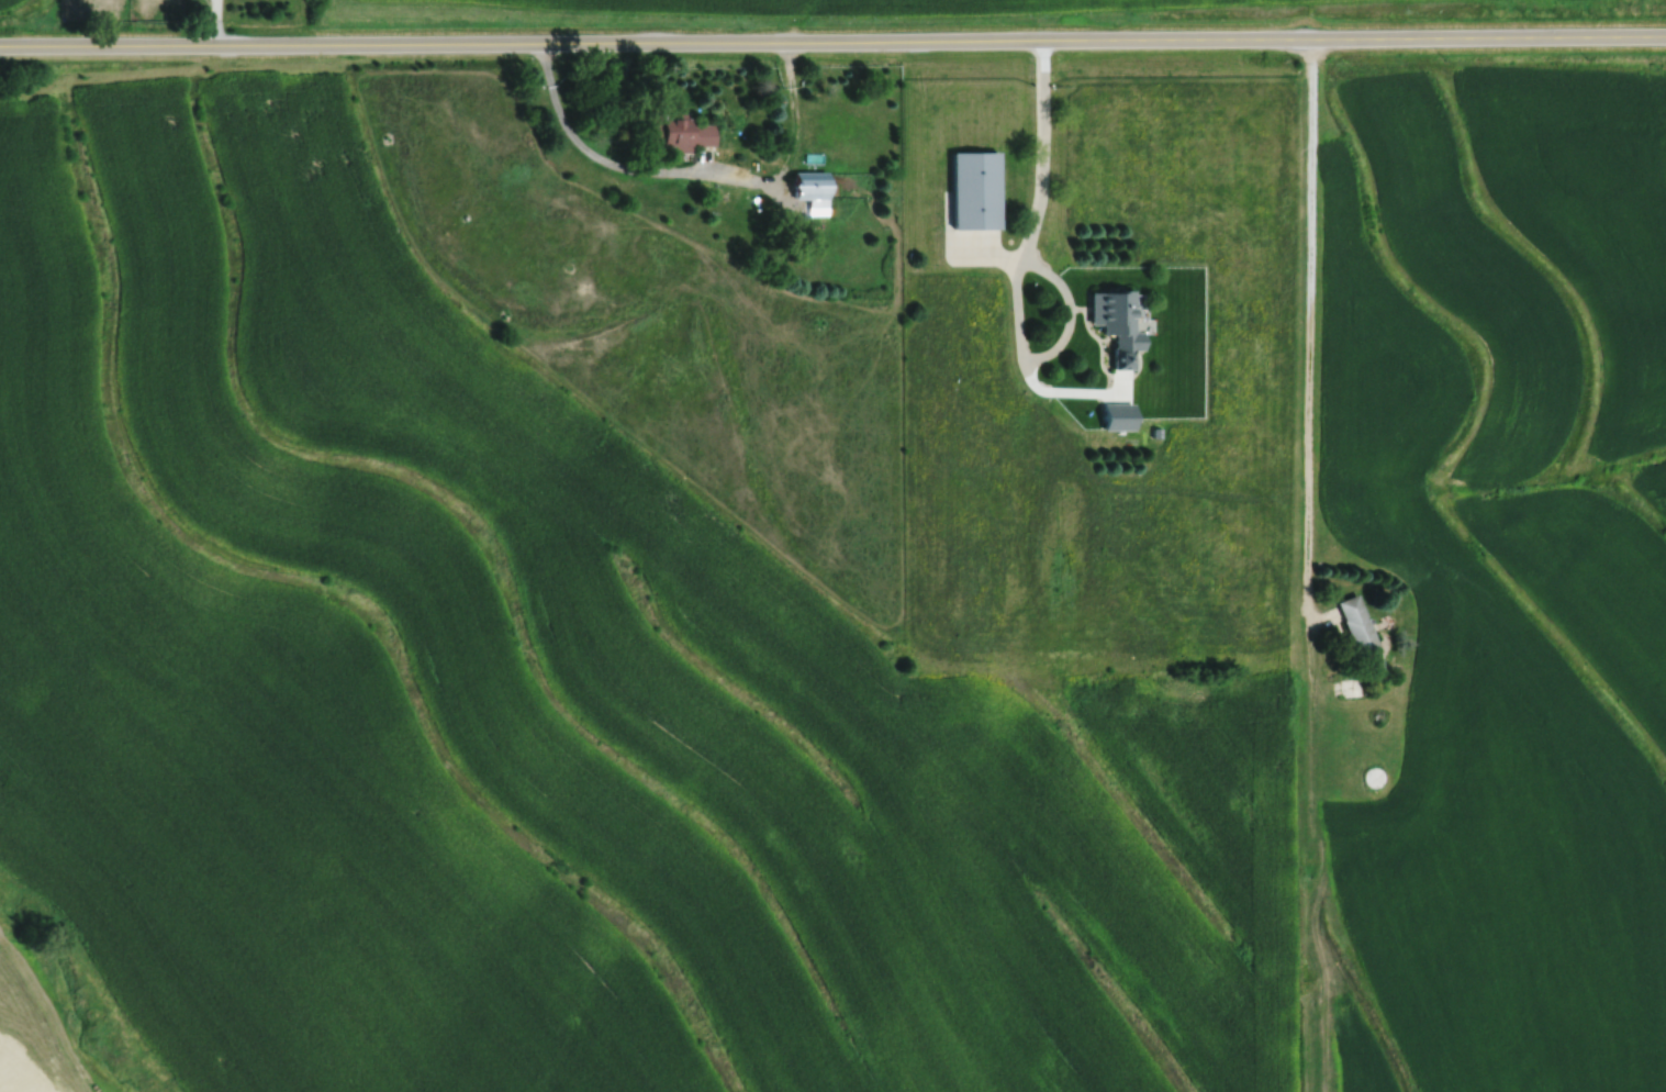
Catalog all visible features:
road: (832, 41)
building: (677, 133)
road: (691, 171)
building: (805, 186)
building: (972, 190)
road: (1014, 277)
building: (1114, 324)
road: (1311, 337)
building: (1114, 417)
building: (1355, 626)
building: (1372, 778)

